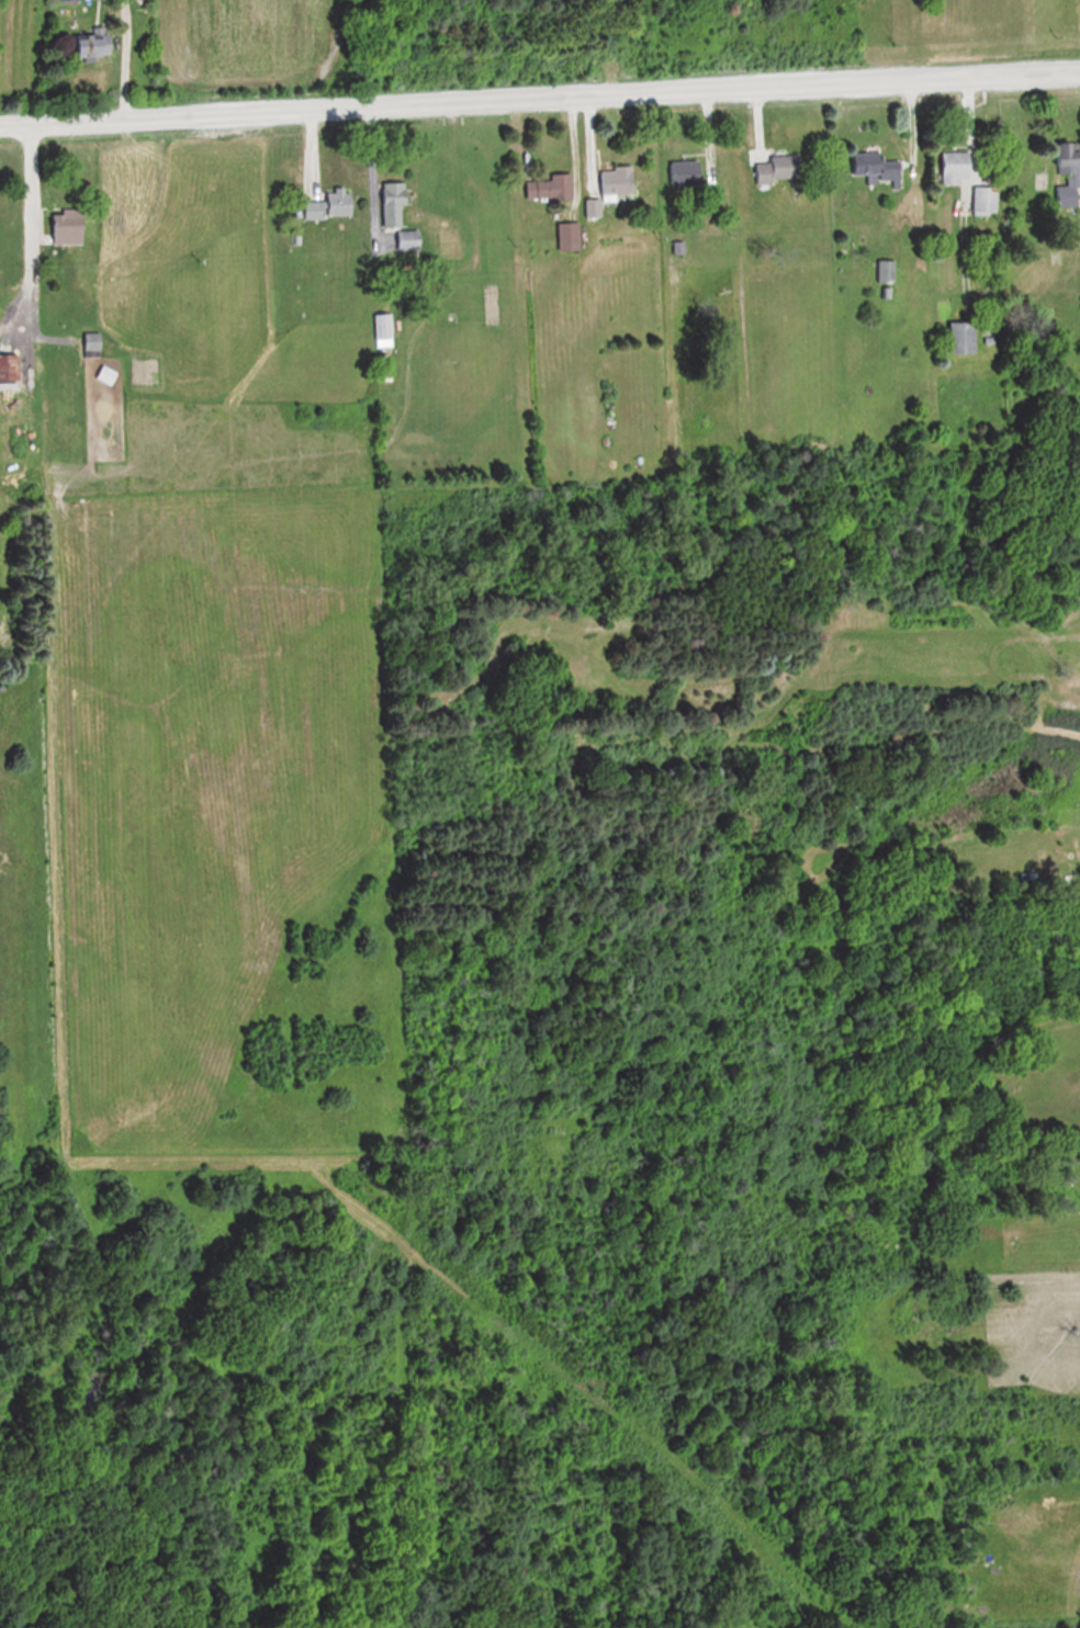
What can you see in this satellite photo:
building: (70, 0)
building: (1079, 2)
building: (95, 46)
road: (539, 95)
building: (874, 167)
building: (949, 167)
building: (775, 169)
building: (1062, 171)
building: (686, 172)
road: (23, 178)
building: (617, 180)
building: (549, 188)
building: (982, 201)
building: (333, 203)
building: (394, 204)
building: (71, 226)
building: (571, 236)
building: (881, 270)
building: (385, 325)
building: (956, 338)
building: (93, 344)
building: (109, 376)

